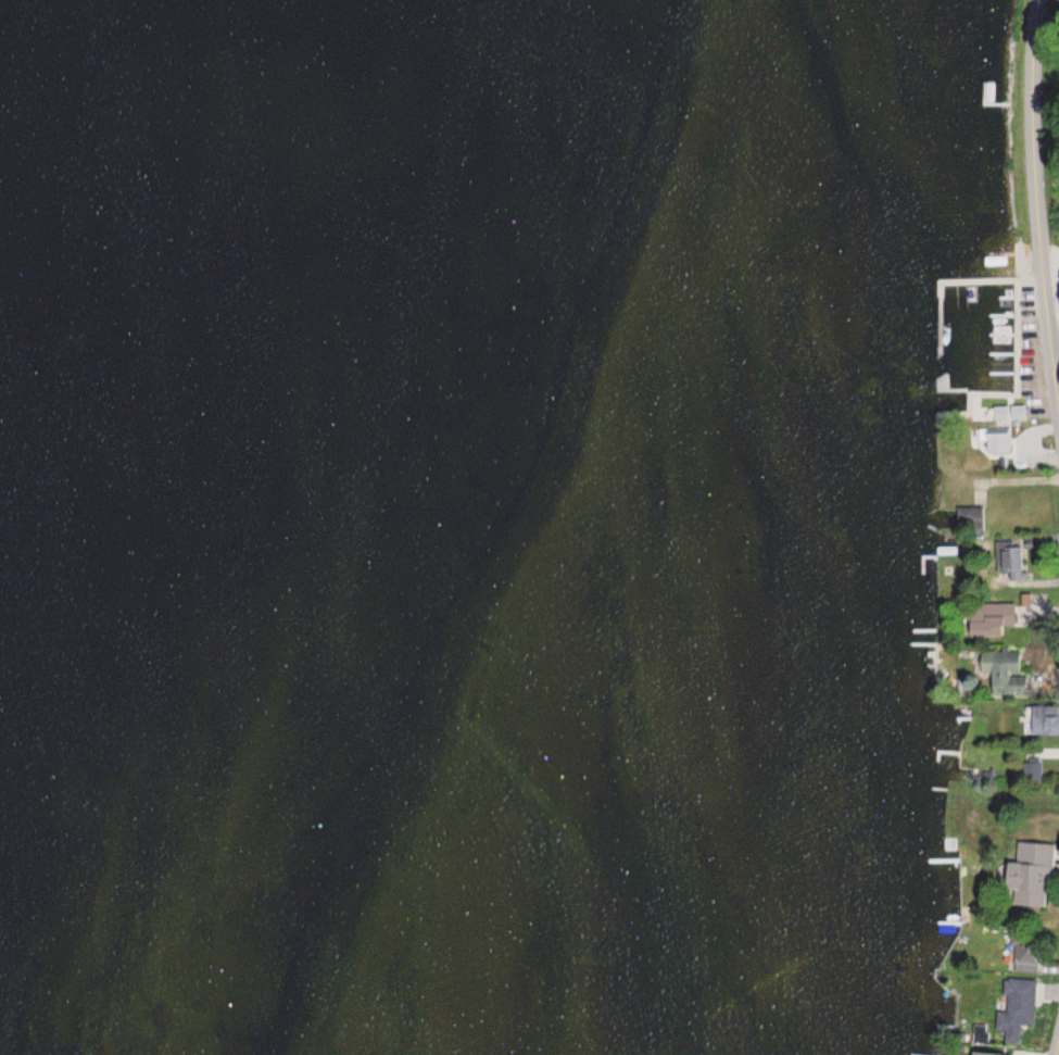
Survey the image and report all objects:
road: (1046, 181)
building: (1009, 562)
building: (986, 618)
building: (998, 670)
building: (1052, 771)
building: (1026, 876)
building: (1025, 953)
building: (1014, 1007)
road: (1058, 1052)
building: (983, 1054)

